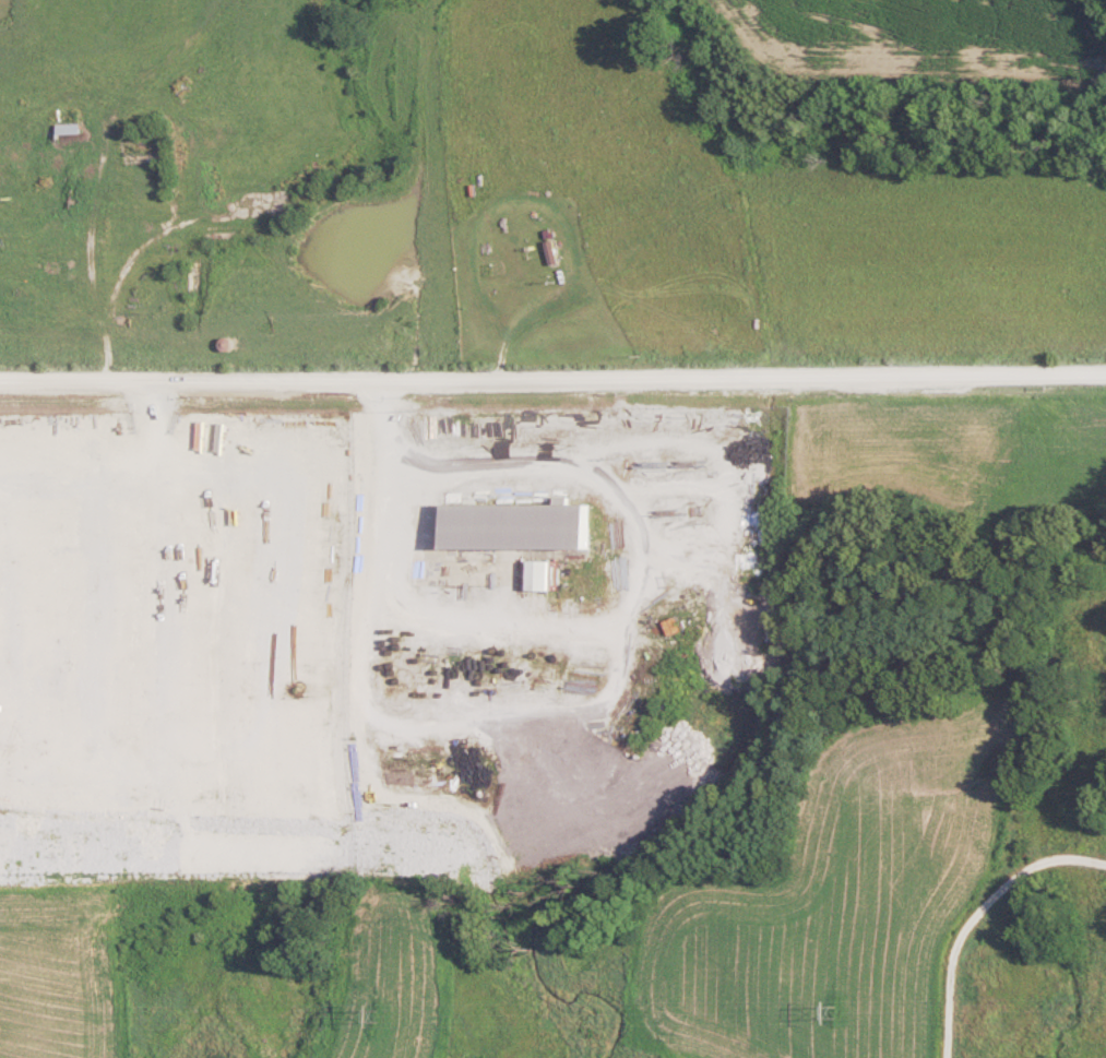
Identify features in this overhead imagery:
building: (75, 127)
road: (95, 223)
road: (129, 257)
road: (552, 376)
road: (514, 471)
building: (522, 524)
building: (542, 573)
power tower: (839, 1012)
power tower: (392, 1021)

